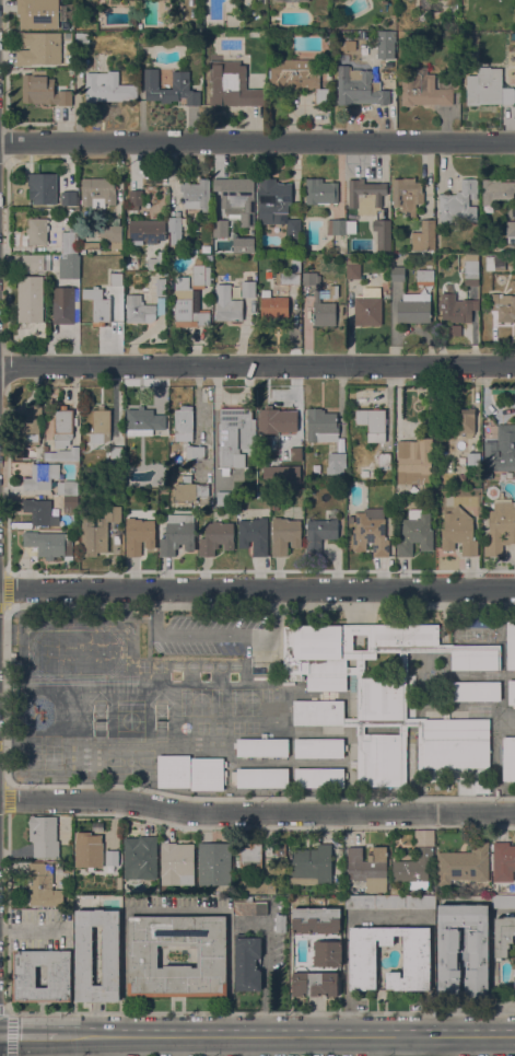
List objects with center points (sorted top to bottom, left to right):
building: (289, 0)
building: (133, 4)
building: (38, 13)
building: (339, 23)
building: (82, 40)
building: (386, 44)
building: (39, 48)
building: (84, 58)
building: (71, 71)
building: (387, 72)
building: (299, 77)
building: (233, 85)
building: (107, 88)
building: (359, 88)
building: (488, 88)
building: (171, 89)
building: (425, 89)
building: (43, 90)
road: (257, 141)
building: (43, 187)
building: (496, 190)
building: (320, 192)
building: (98, 193)
building: (197, 195)
building: (407, 195)
building: (365, 196)
building: (69, 198)
building: (237, 198)
building: (134, 199)
building: (458, 204)
building: (278, 206)
building: (175, 222)
building: (336, 227)
building: (351, 227)
building: (221, 228)
building: (147, 230)
building: (37, 231)
building: (511, 231)
building: (382, 233)
building: (424, 235)
building: (112, 236)
building: (92, 245)
building: (244, 245)
building: (194, 250)
building: (68, 254)
building: (513, 258)
building: (156, 260)
building: (495, 263)
building: (33, 264)
building: (128, 265)
building: (353, 269)
building: (471, 269)
building: (162, 272)
building: (116, 274)
building: (292, 274)
building: (398, 274)
building: (201, 275)
building: (425, 277)
building: (513, 283)
building: (161, 287)
building: (144, 289)
building: (248, 289)
building: (31, 299)
building: (318, 299)
building: (227, 304)
building: (63, 305)
building: (187, 305)
building: (98, 306)
building: (272, 306)
building: (504, 306)
building: (368, 307)
building: (414, 309)
building: (139, 310)
building: (456, 311)
road: (257, 367)
building: (184, 419)
building: (268, 419)
building: (465, 420)
building: (143, 421)
building: (373, 422)
building: (431, 422)
building: (101, 425)
building: (321, 426)
building: (28, 427)
building: (63, 427)
building: (234, 437)
building: (501, 450)
building: (198, 452)
building: (66, 454)
building: (116, 456)
building: (280, 459)
building: (473, 459)
building: (414, 460)
building: (384, 461)
building: (463, 461)
building: (336, 464)
building: (308, 465)
building: (364, 473)
building: (374, 474)
building: (488, 475)
building: (42, 476)
building: (514, 477)
building: (68, 488)
building: (418, 489)
building: (189, 490)
building: (492, 491)
building: (261, 495)
building: (223, 498)
building: (70, 504)
building: (274, 506)
building: (42, 512)
building: (351, 519)
building: (500, 527)
building: (97, 531)
building: (320, 532)
building: (371, 532)
building: (458, 532)
building: (414, 533)
building: (177, 534)
building: (254, 535)
building: (285, 535)
building: (138, 536)
building: (216, 537)
building: (46, 543)
road: (257, 590)
road: (211, 637)
building: (511, 643)
building: (342, 649)
track: (77, 653)
building: (476, 658)
building: (360, 662)
building: (475, 691)
building: (512, 693)
building: (382, 697)
building: (318, 712)
road: (384, 722)
road: (361, 729)
road: (401, 729)
building: (456, 743)
building: (261, 746)
building: (319, 747)
road: (384, 752)
building: (508, 759)
building: (379, 761)
building: (174, 771)
building: (207, 774)
building: (319, 777)
building: (262, 778)
building: (482, 787)
road: (256, 813)
building: (44, 836)
building: (281, 849)
building: (89, 852)
building: (140, 857)
building: (249, 857)
building: (112, 858)
building: (503, 861)
building: (176, 863)
building: (214, 863)
building: (464, 864)
building: (311, 866)
building: (368, 868)
building: (414, 868)
building: (43, 885)
building: (259, 886)
building: (395, 891)
building: (390, 902)
building: (503, 902)
building: (249, 908)
road: (175, 910)
building: (316, 920)
building: (280, 922)
building: (503, 936)
building: (302, 952)
building: (328, 953)
building: (84, 955)
building: (143, 955)
building: (479, 956)
building: (417, 959)
building: (247, 964)
road: (267, 965)
building: (24, 976)
building: (314, 984)
road: (28, 1037)
road: (285, 1037)
road: (112, 1046)
road: (178, 1046)
road: (412, 1046)

